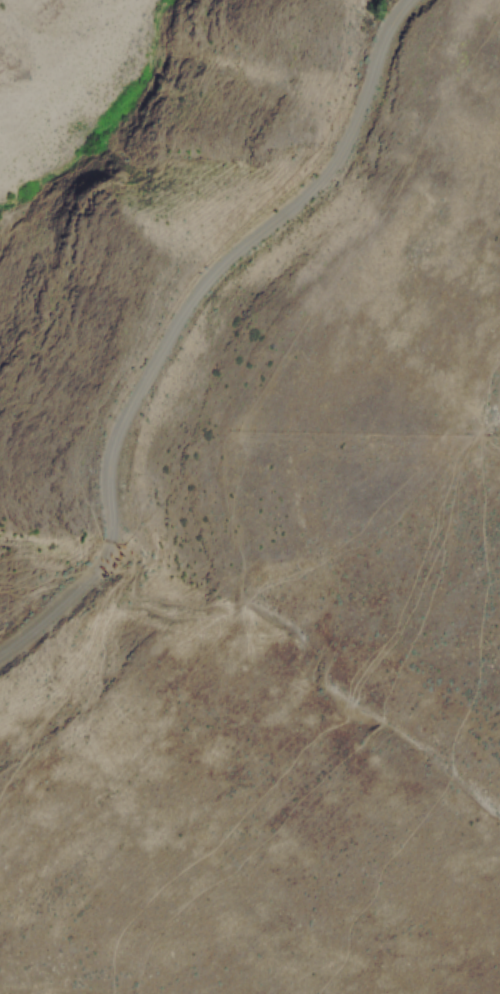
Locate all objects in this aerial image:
road: (180, 318)

